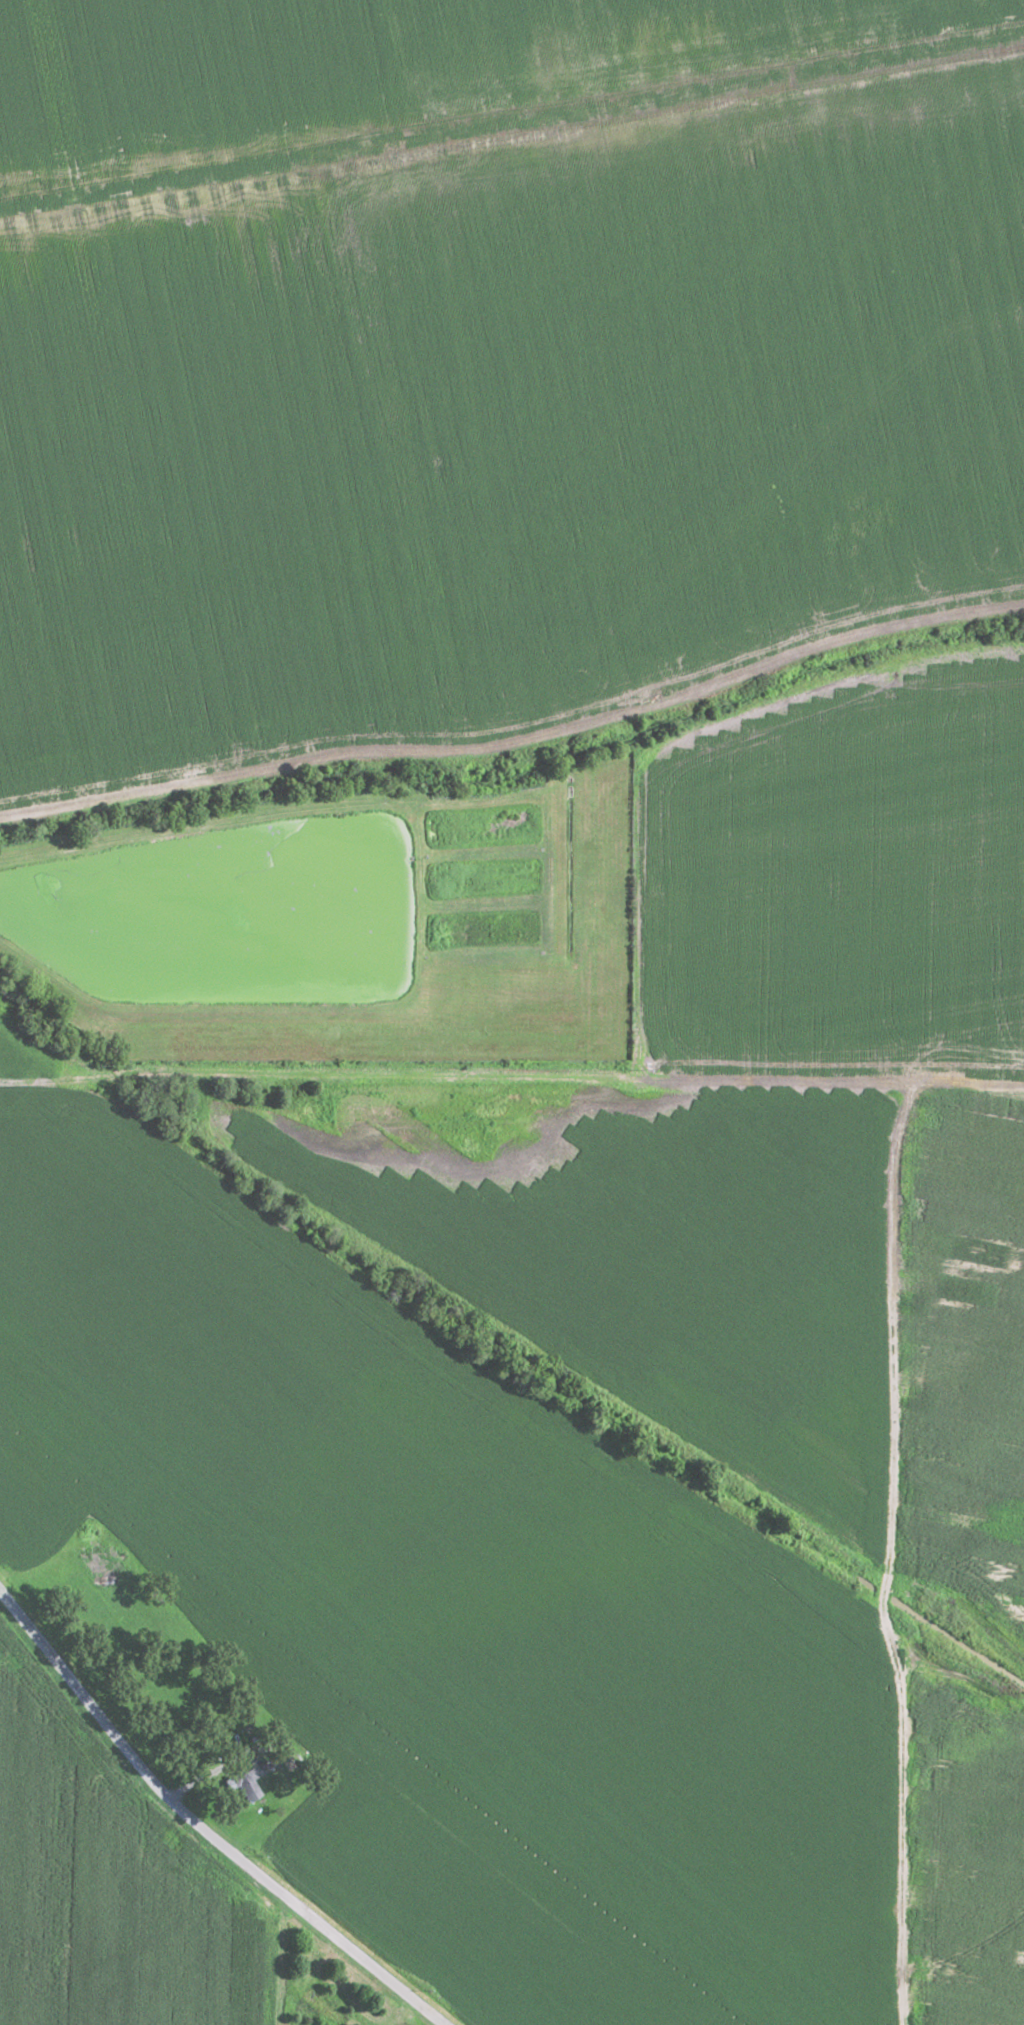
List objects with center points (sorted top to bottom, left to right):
building: (249, 1783)
road: (203, 1828)

